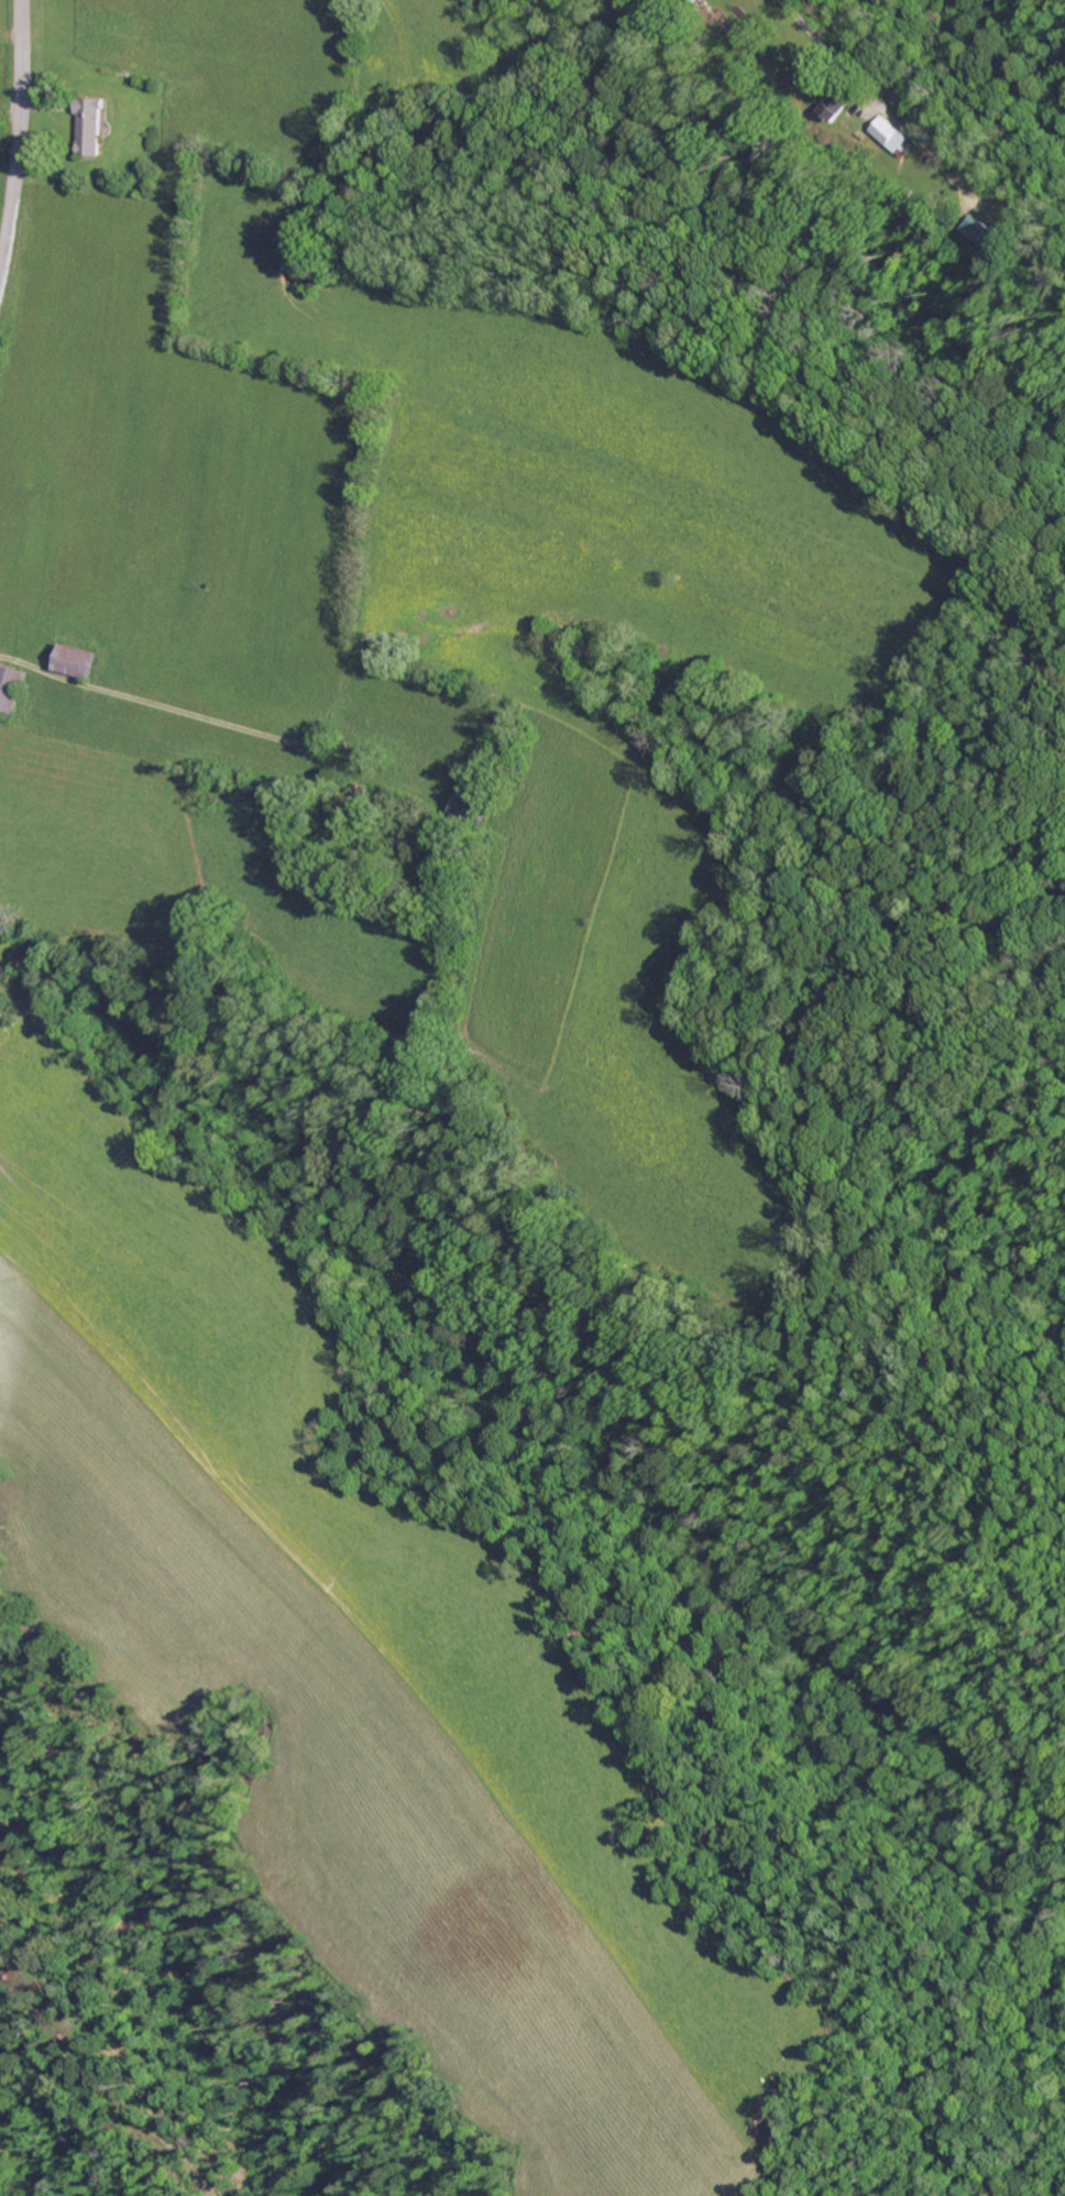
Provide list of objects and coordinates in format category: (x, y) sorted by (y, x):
building: (833, 105)
road: (943, 120)
building: (90, 128)
road: (17, 129)
building: (891, 136)
building: (982, 233)
building: (76, 660)
building: (11, 687)
road: (151, 698)
building: (463, 801)
road: (1001, 2060)

